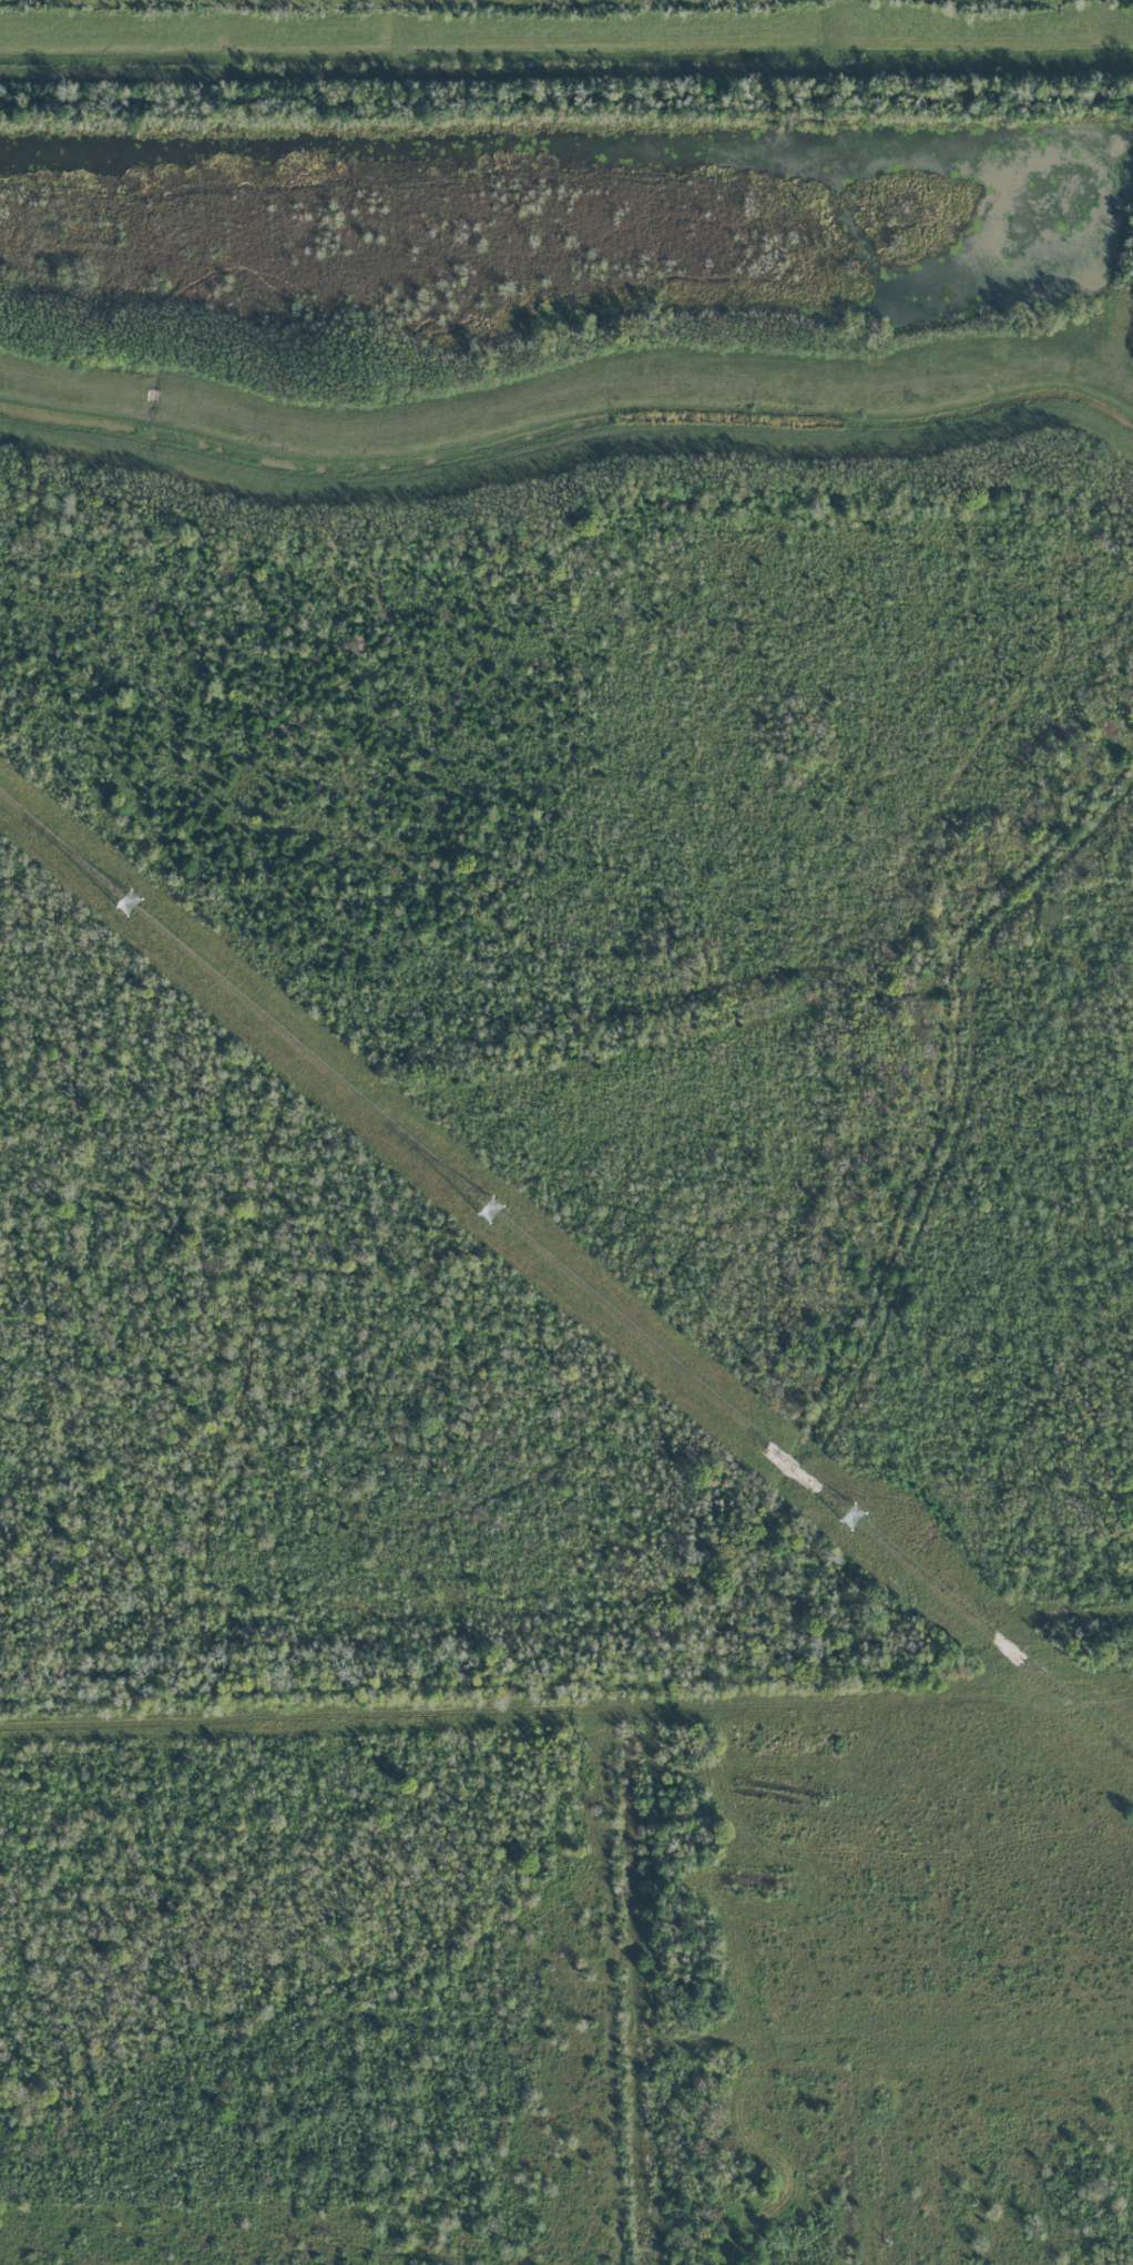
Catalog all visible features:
power tower: (222, 981)
power tower: (511, 1227)
power tower: (802, 1473)
power tower: (1091, 1718)

